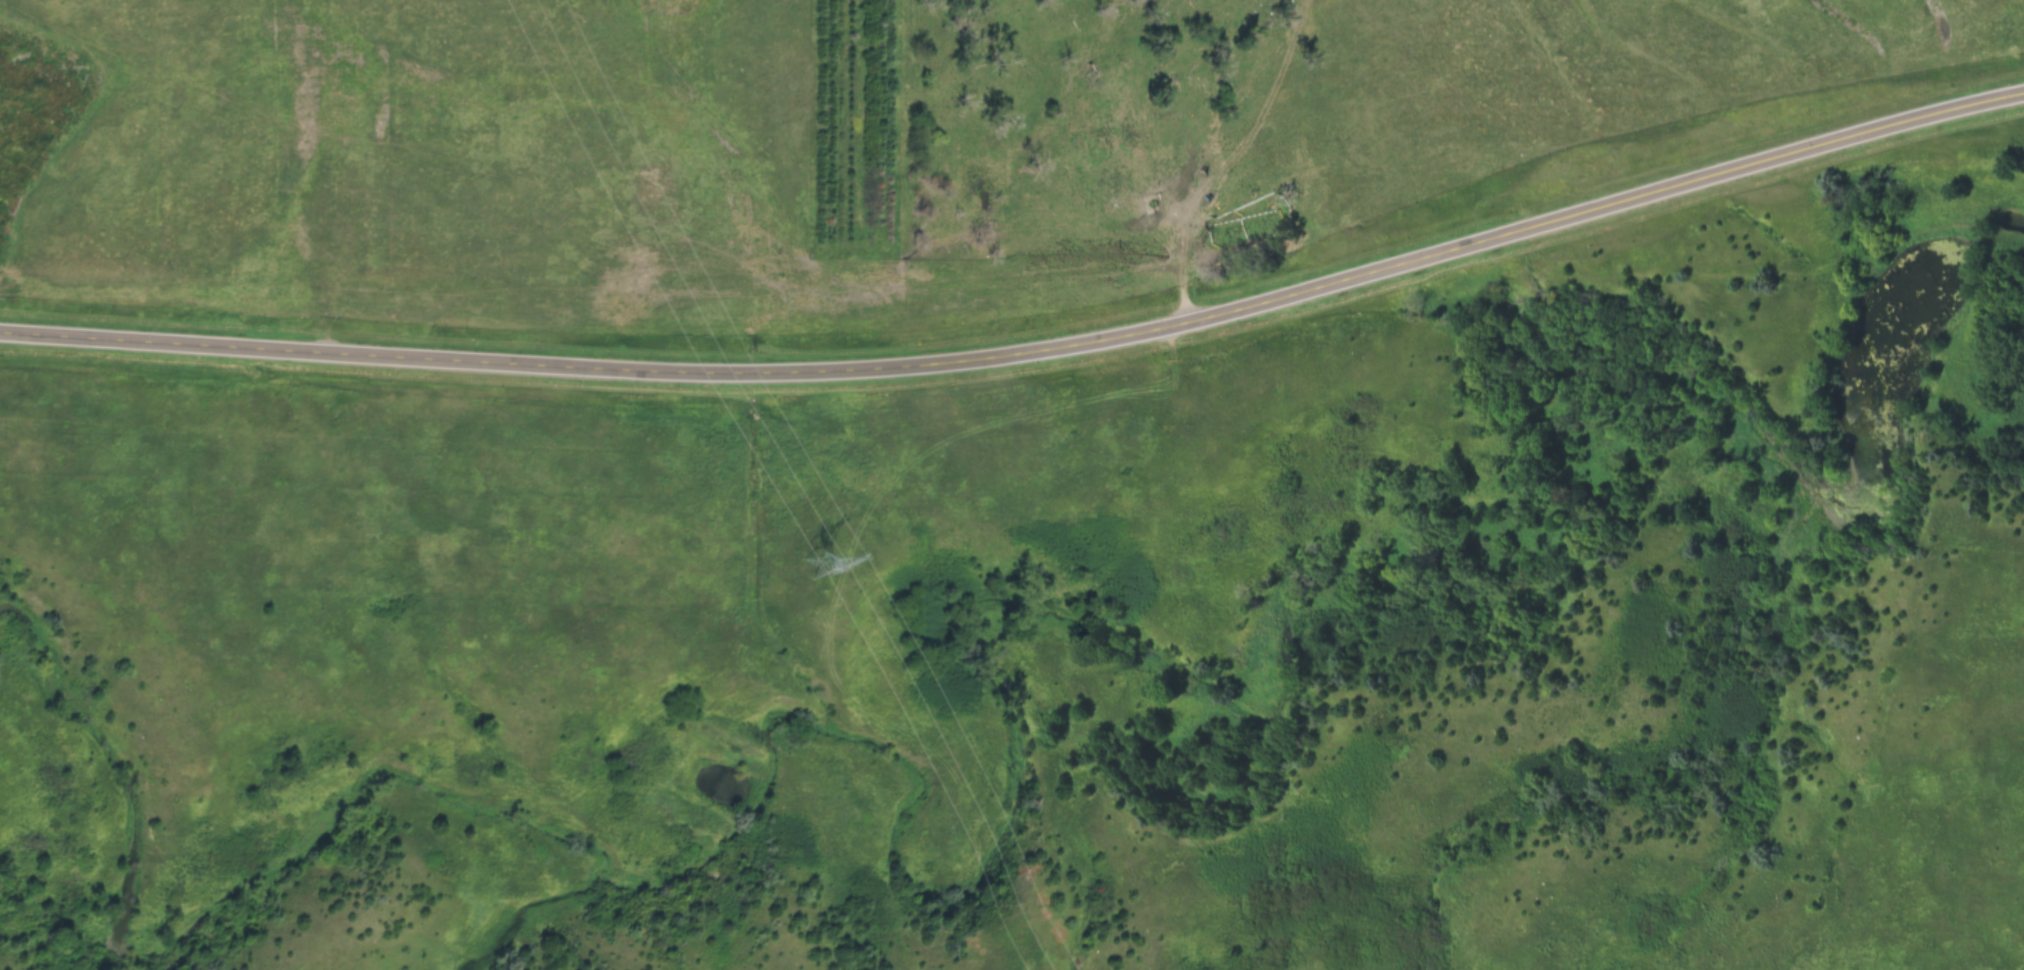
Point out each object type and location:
road: (1027, 350)
power tower: (815, 554)

